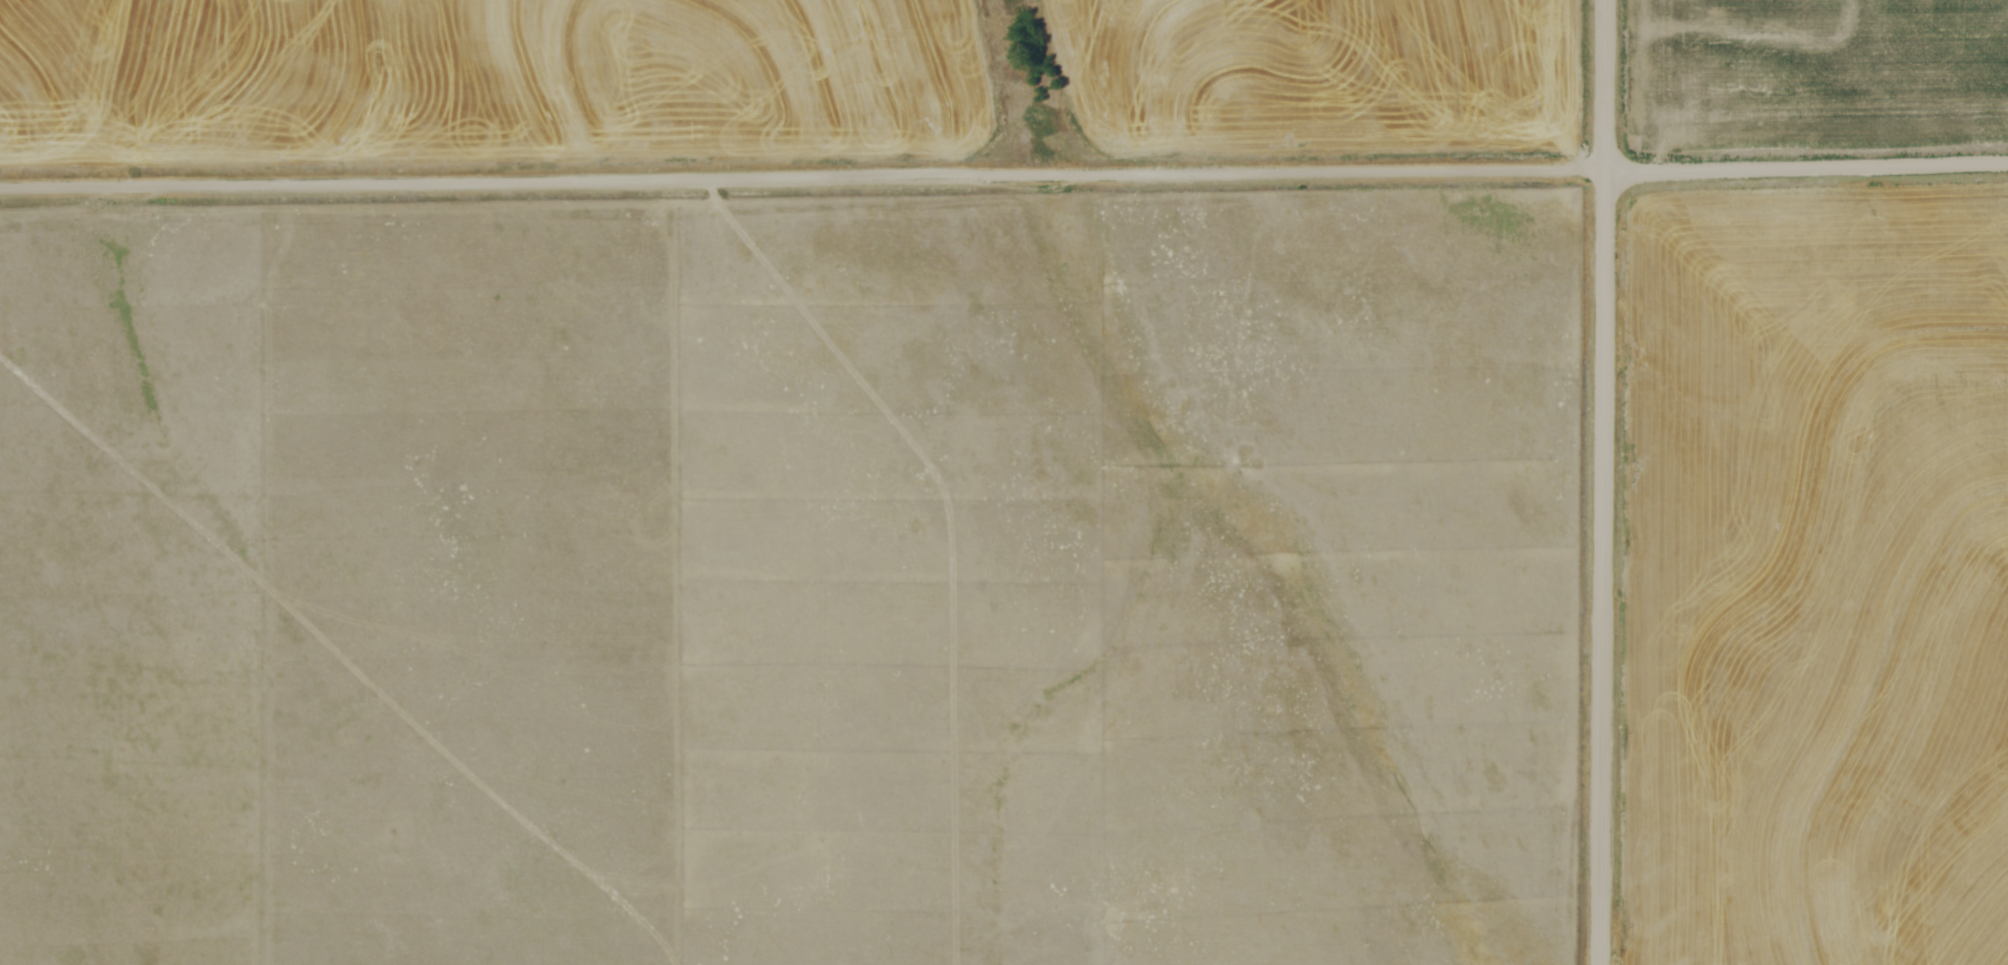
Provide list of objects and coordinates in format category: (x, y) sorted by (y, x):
road: (1807, 168)
road: (803, 180)
road: (1607, 482)

